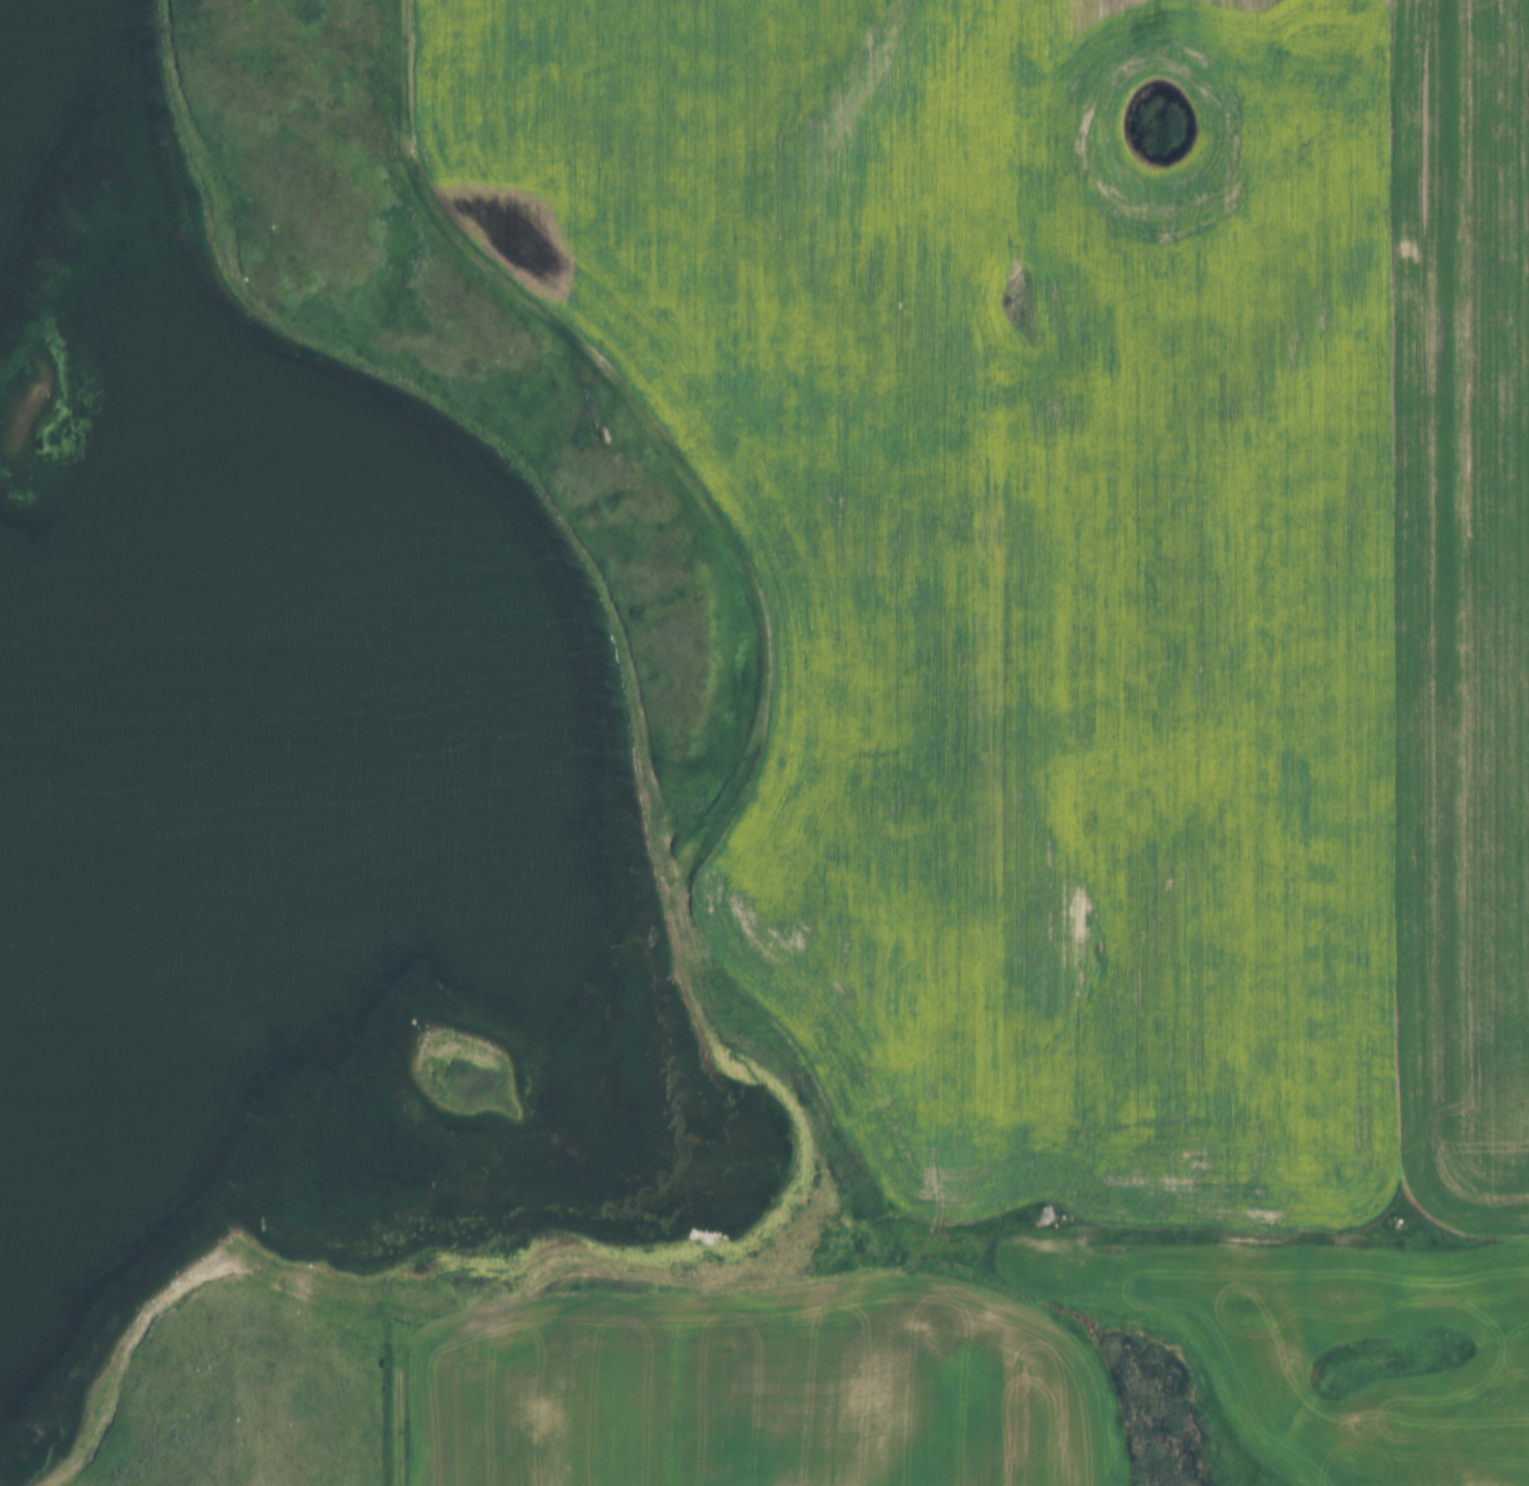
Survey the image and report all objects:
road: (758, 730)
road: (960, 1230)

